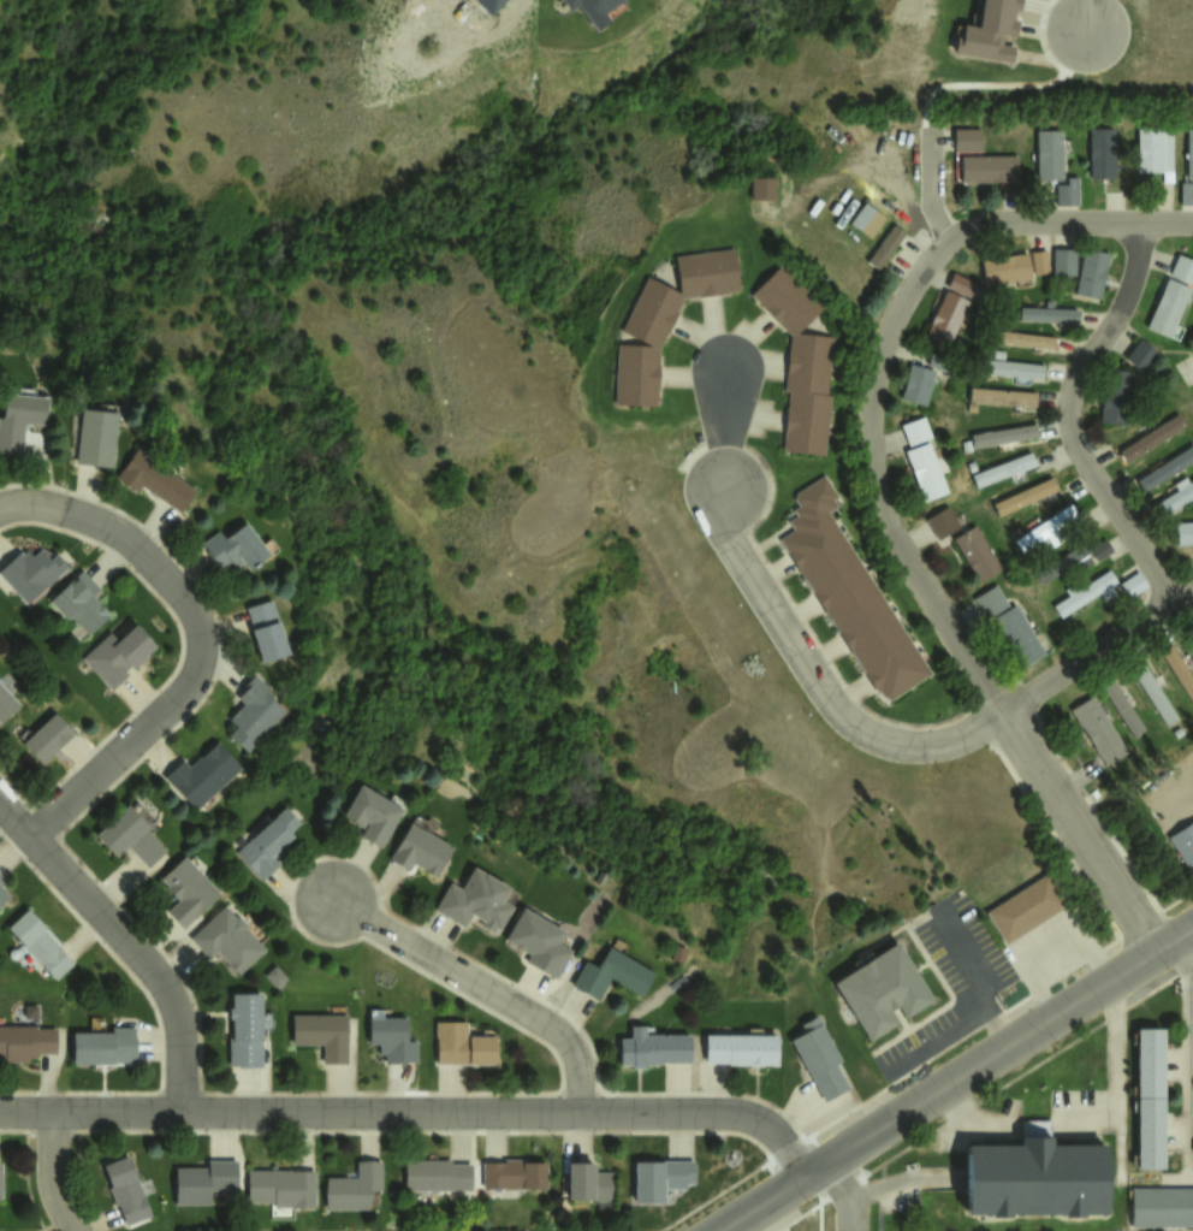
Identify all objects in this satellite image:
building: (575, 1)
building: (600, 6)
road: (1085, 17)
building: (987, 29)
building: (966, 138)
building: (1155, 150)
building: (1102, 152)
building: (1188, 153)
building: (1053, 166)
building: (989, 168)
road: (938, 183)
building: (765, 187)
building: (1186, 194)
building: (866, 219)
road: (1167, 221)
building: (884, 247)
building: (1038, 261)
building: (1062, 262)
building: (1004, 268)
building: (705, 271)
building: (1091, 273)
building: (1171, 296)
building: (783, 297)
building: (950, 310)
building: (651, 312)
building: (1047, 314)
building: (1025, 339)
building: (1140, 355)
building: (809, 362)
building: (1009, 368)
building: (636, 375)
building: (916, 384)
building: (1001, 396)
building: (1114, 396)
road: (1067, 416)
building: (19, 419)
building: (805, 422)
building: (99, 436)
building: (1003, 436)
building: (1150, 437)
building: (922, 458)
building: (1165, 467)
building: (1003, 468)
building: (155, 479)
building: (1023, 496)
building: (1175, 497)
road: (889, 523)
building: (1044, 526)
building: (1183, 533)
building: (963, 543)
building: (236, 548)
building: (1069, 561)
building: (32, 572)
building: (1097, 591)
building: (851, 593)
building: (82, 603)
building: (1009, 625)
building: (267, 629)
building: (1192, 632)
road: (200, 639)
building: (118, 655)
building: (1179, 671)
building: (1153, 693)
building: (6, 703)
building: (1122, 708)
building: (256, 714)
road: (851, 724)
building: (1097, 730)
building: (48, 738)
building: (203, 774)
building: (374, 813)
building: (130, 835)
building: (1183, 841)
building: (268, 844)
building: (422, 850)
building: (1, 877)
building: (189, 892)
building: (2, 895)
building: (480, 900)
building: (1026, 907)
building: (228, 940)
building: (536, 940)
road: (126, 941)
building: (41, 945)
building: (613, 973)
building: (277, 975)
parking lot: (954, 980)
road: (477, 989)
building: (883, 990)
building: (247, 1030)
building: (322, 1034)
building: (394, 1037)
building: (24, 1041)
building: (463, 1044)
building: (105, 1046)
building: (653, 1048)
building: (743, 1048)
road: (1189, 1053)
building: (821, 1058)
road: (954, 1078)
building: (1152, 1097)
road: (414, 1114)
building: (437, 1172)
road: (54, 1173)
building: (515, 1173)
building: (663, 1178)
building: (0, 1179)
building: (1041, 1179)
building: (204, 1182)
building: (589, 1183)
building: (278, 1186)
building: (355, 1188)
building: (129, 1190)
road: (845, 1192)
building: (1161, 1207)

